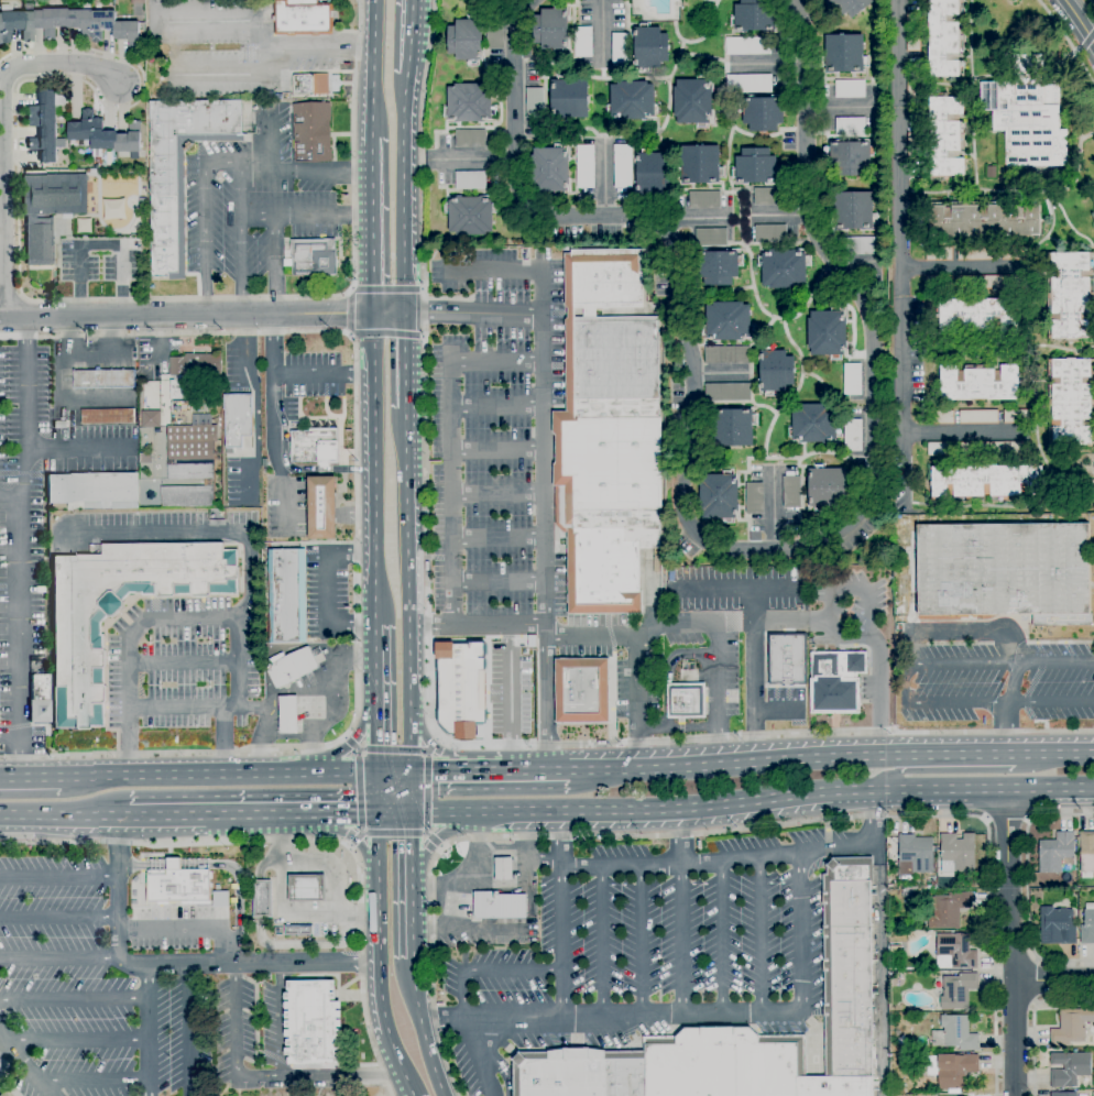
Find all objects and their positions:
road: (1091, 4)
building: (850, 6)
building: (755, 17)
building: (302, 19)
road: (1076, 23)
building: (69, 24)
building: (553, 30)
building: (494, 32)
road: (602, 33)
building: (912, 36)
building: (467, 39)
building: (945, 39)
road: (414, 40)
road: (1065, 41)
building: (583, 42)
building: (748, 46)
road: (319, 47)
building: (649, 47)
building: (621, 48)
building: (843, 54)
road: (772, 63)
road: (373, 66)
building: (748, 84)
building: (310, 85)
building: (850, 89)
building: (914, 89)
building: (569, 98)
building: (632, 101)
building: (693, 101)
building: (469, 103)
building: (535, 103)
building: (763, 112)
road: (838, 112)
building: (1027, 113)
building: (44, 127)
building: (850, 127)
road: (4, 132)
building: (311, 132)
building: (105, 134)
building: (945, 136)
building: (470, 139)
road: (269, 140)
building: (914, 146)
building: (850, 157)
road: (460, 158)
road: (220, 161)
building: (700, 165)
building: (586, 166)
building: (623, 166)
building: (756, 167)
building: (180, 169)
road: (305, 169)
building: (550, 169)
building: (652, 172)
building: (470, 180)
road: (610, 183)
road: (404, 196)
building: (772, 196)
building: (704, 200)
building: (113, 209)
building: (48, 210)
building: (853, 211)
building: (470, 215)
road: (305, 217)
road: (696, 217)
road: (784, 219)
building: (985, 219)
road: (372, 223)
building: (770, 234)
building: (711, 238)
road: (100, 245)
building: (863, 246)
building: (939, 253)
building: (977, 253)
building: (1015, 253)
building: (313, 257)
road: (273, 265)
building: (719, 267)
building: (784, 268)
road: (961, 268)
road: (862, 273)
road: (899, 278)
building: (602, 281)
building: (938, 283)
building: (989, 283)
road: (386, 289)
building: (1070, 295)
road: (69, 300)
building: (612, 313)
road: (349, 314)
road: (472, 314)
road: (203, 315)
building: (977, 315)
building: (727, 322)
building: (828, 333)
road: (387, 337)
road: (272, 343)
building: (727, 354)
road: (406, 360)
building: (775, 371)
building: (190, 372)
road: (324, 374)
road: (716, 376)
building: (103, 380)
building: (852, 380)
building: (980, 383)
building: (727, 392)
building: (1071, 402)
road: (495, 407)
building: (1017, 416)
building: (108, 417)
building: (940, 417)
building: (978, 417)
building: (149, 418)
building: (237, 419)
building: (814, 424)
building: (735, 427)
parking lot: (488, 429)
building: (853, 436)
road: (374, 440)
building: (316, 447)
road: (78, 448)
building: (978, 448)
road: (450, 450)
road: (496, 450)
building: (189, 451)
building: (144, 458)
road: (274, 458)
building: (609, 460)
road: (287, 464)
road: (543, 474)
building: (986, 482)
building: (825, 487)
road: (8, 490)
building: (94, 491)
building: (791, 492)
road: (496, 494)
building: (187, 496)
building: (720, 496)
parking lot: (33, 498)
building: (755, 498)
building: (321, 507)
road: (321, 516)
road: (354, 516)
road: (773, 516)
parking lot: (160, 527)
road: (355, 535)
road: (249, 536)
road: (496, 538)
road: (17, 541)
road: (710, 546)
road: (407, 555)
building: (1006, 571)
road: (496, 583)
road: (734, 588)
road: (324, 592)
building: (287, 595)
road: (375, 595)
road: (866, 602)
building: (118, 611)
road: (789, 623)
road: (475, 626)
road: (647, 627)
road: (961, 632)
road: (125, 648)
building: (787, 659)
road: (380, 664)
road: (180, 666)
building: (291, 667)
parking lot: (172, 668)
road: (753, 671)
road: (668, 672)
building: (835, 682)
road: (901, 683)
building: (460, 688)
building: (581, 691)
road: (716, 691)
road: (297, 693)
road: (511, 695)
road: (429, 699)
road: (636, 700)
building: (686, 701)
road: (1007, 705)
road: (180, 709)
road: (251, 709)
building: (35, 713)
building: (288, 715)
gas station: (288, 715)
road: (677, 728)
road: (308, 732)
road: (379, 735)
road: (411, 735)
road: (10, 736)
road: (220, 741)
road: (430, 744)
road: (1069, 748)
road: (1092, 748)
road: (339, 753)
road: (805, 753)
road: (535, 767)
road: (395, 768)
road: (441, 768)
road: (489, 768)
road: (328, 770)
road: (960, 770)
road: (167, 772)
road: (30, 777)
road: (1093, 790)
road: (379, 791)
road: (412, 791)
road: (789, 801)
road: (341, 815)
road: (395, 815)
road: (450, 815)
road: (210, 818)
road: (58, 819)
road: (1007, 819)
road: (723, 830)
road: (348, 836)
road: (441, 836)
road: (303, 840)
road: (378, 845)
road: (412, 846)
flagpole: (225, 848)
road: (502, 852)
building: (959, 852)
building: (917, 853)
building: (1055, 853)
road: (876, 854)
building: (1086, 854)
road: (742, 858)
road: (263, 863)
building: (194, 864)
road: (217, 865)
building: (503, 869)
road: (464, 870)
road: (58, 878)
building: (1043, 883)
building: (178, 886)
road: (1027, 886)
building: (307, 888)
road: (447, 889)
building: (908, 892)
gas station: (485, 895)
building: (219, 899)
road: (259, 899)
building: (262, 899)
gas station: (299, 899)
building: (499, 906)
building: (949, 910)
road: (679, 911)
road: (281, 912)
road: (560, 916)
road: (58, 918)
road: (411, 919)
building: (1058, 925)
building: (1087, 925)
road: (457, 928)
road: (187, 929)
building: (297, 930)
parking lot: (664, 930)
road: (759, 935)
road: (721, 936)
road: (641, 940)
road: (602, 941)
road: (1010, 943)
road: (306, 944)
building: (895, 950)
building: (955, 952)
road: (58, 957)
road: (177, 964)
road: (490, 975)
road: (878, 979)
road: (1053, 979)
road: (378, 987)
building: (958, 990)
road: (74, 998)
parking lot: (110, 1001)
flagpole: (344, 1002)
flagpole: (351, 1002)
building: (894, 1009)
road: (688, 1013)
road: (1032, 1019)
road: (280, 1020)
building: (311, 1023)
building: (891, 1027)
building: (1071, 1027)
road: (422, 1029)
road: (149, 1030)
road: (188, 1030)
building: (745, 1030)
building: (954, 1033)
road: (77, 1040)
building: (901, 1040)
road: (478, 1057)
road: (17, 1064)
building: (1069, 1068)
road: (501, 1070)
building: (952, 1070)
road: (261, 1076)
road: (90, 1081)
building: (4, 1093)
building: (1064, 1094)
road: (409, 1095)

